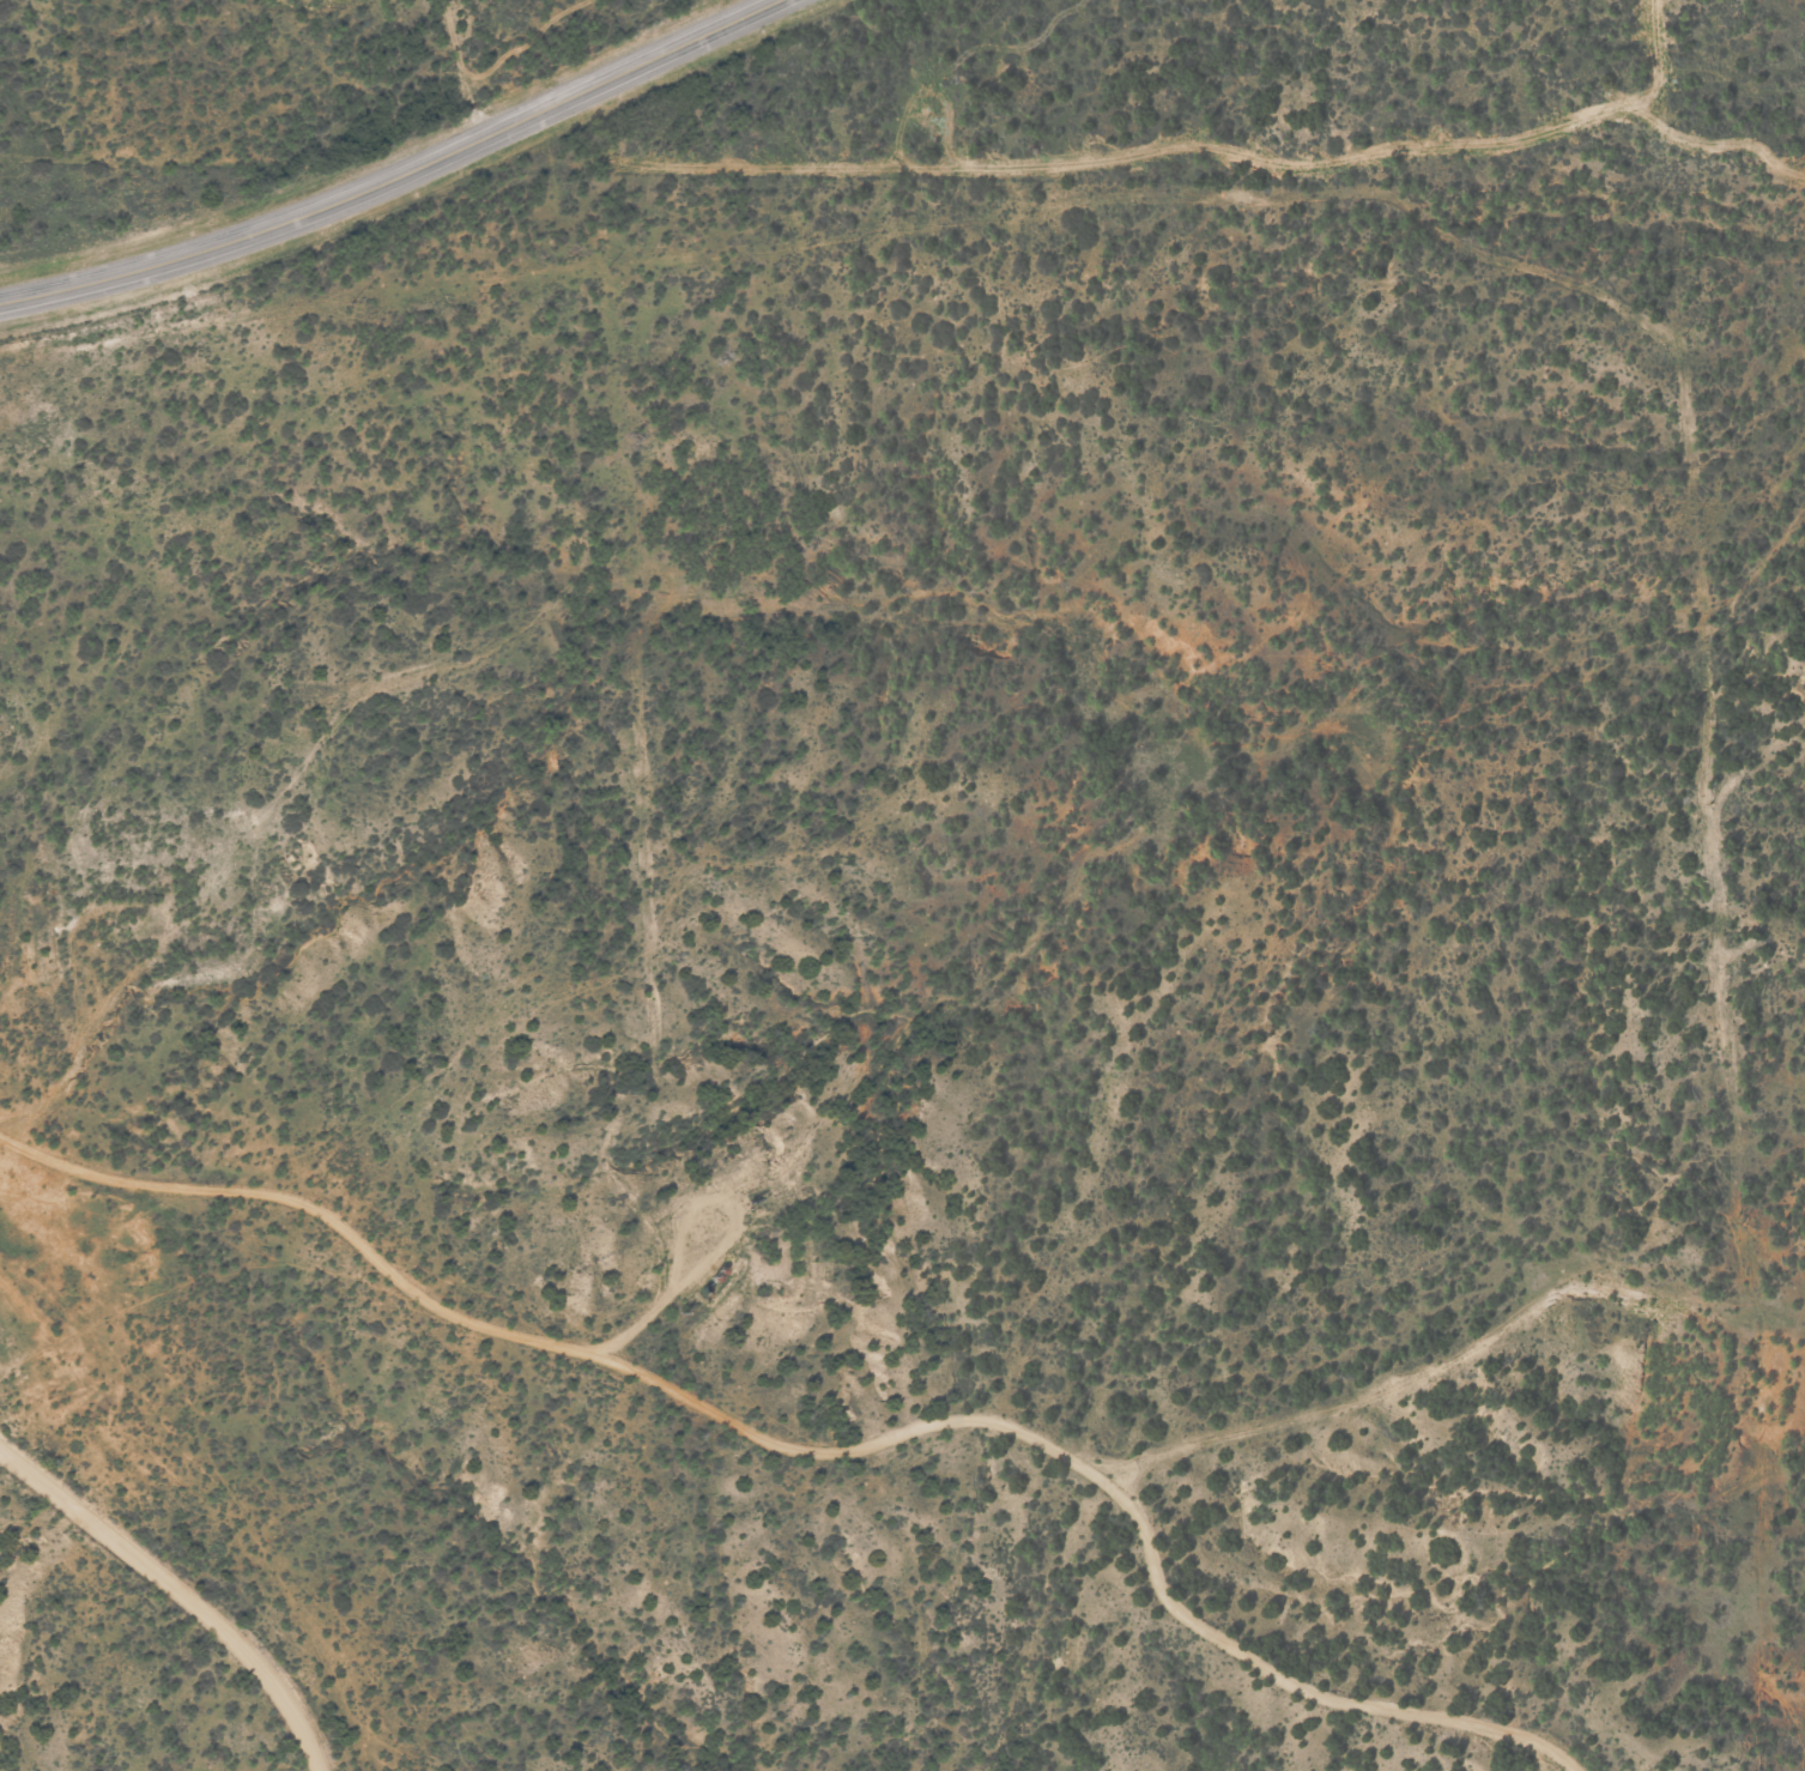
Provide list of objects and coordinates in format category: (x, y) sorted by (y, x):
road: (396, 176)
road: (1119, 1083)
road: (490, 1294)
road: (183, 1588)
road: (1228, 1632)

